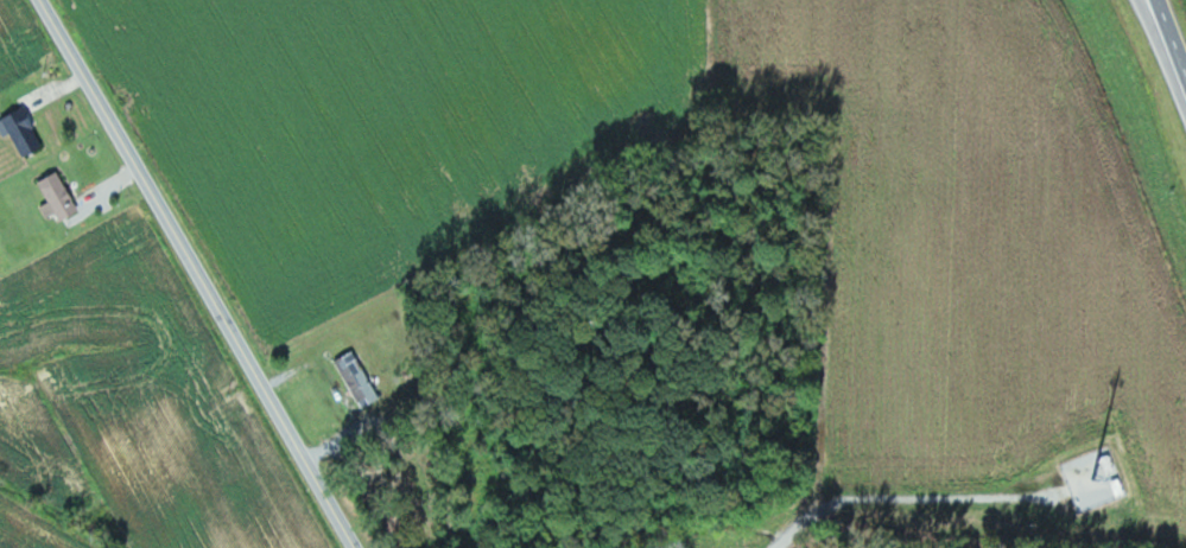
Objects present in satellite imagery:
road: (1160, 27)
road: (1169, 39)
building: (23, 130)
building: (58, 196)
road: (199, 274)
building: (359, 377)
road: (902, 497)

